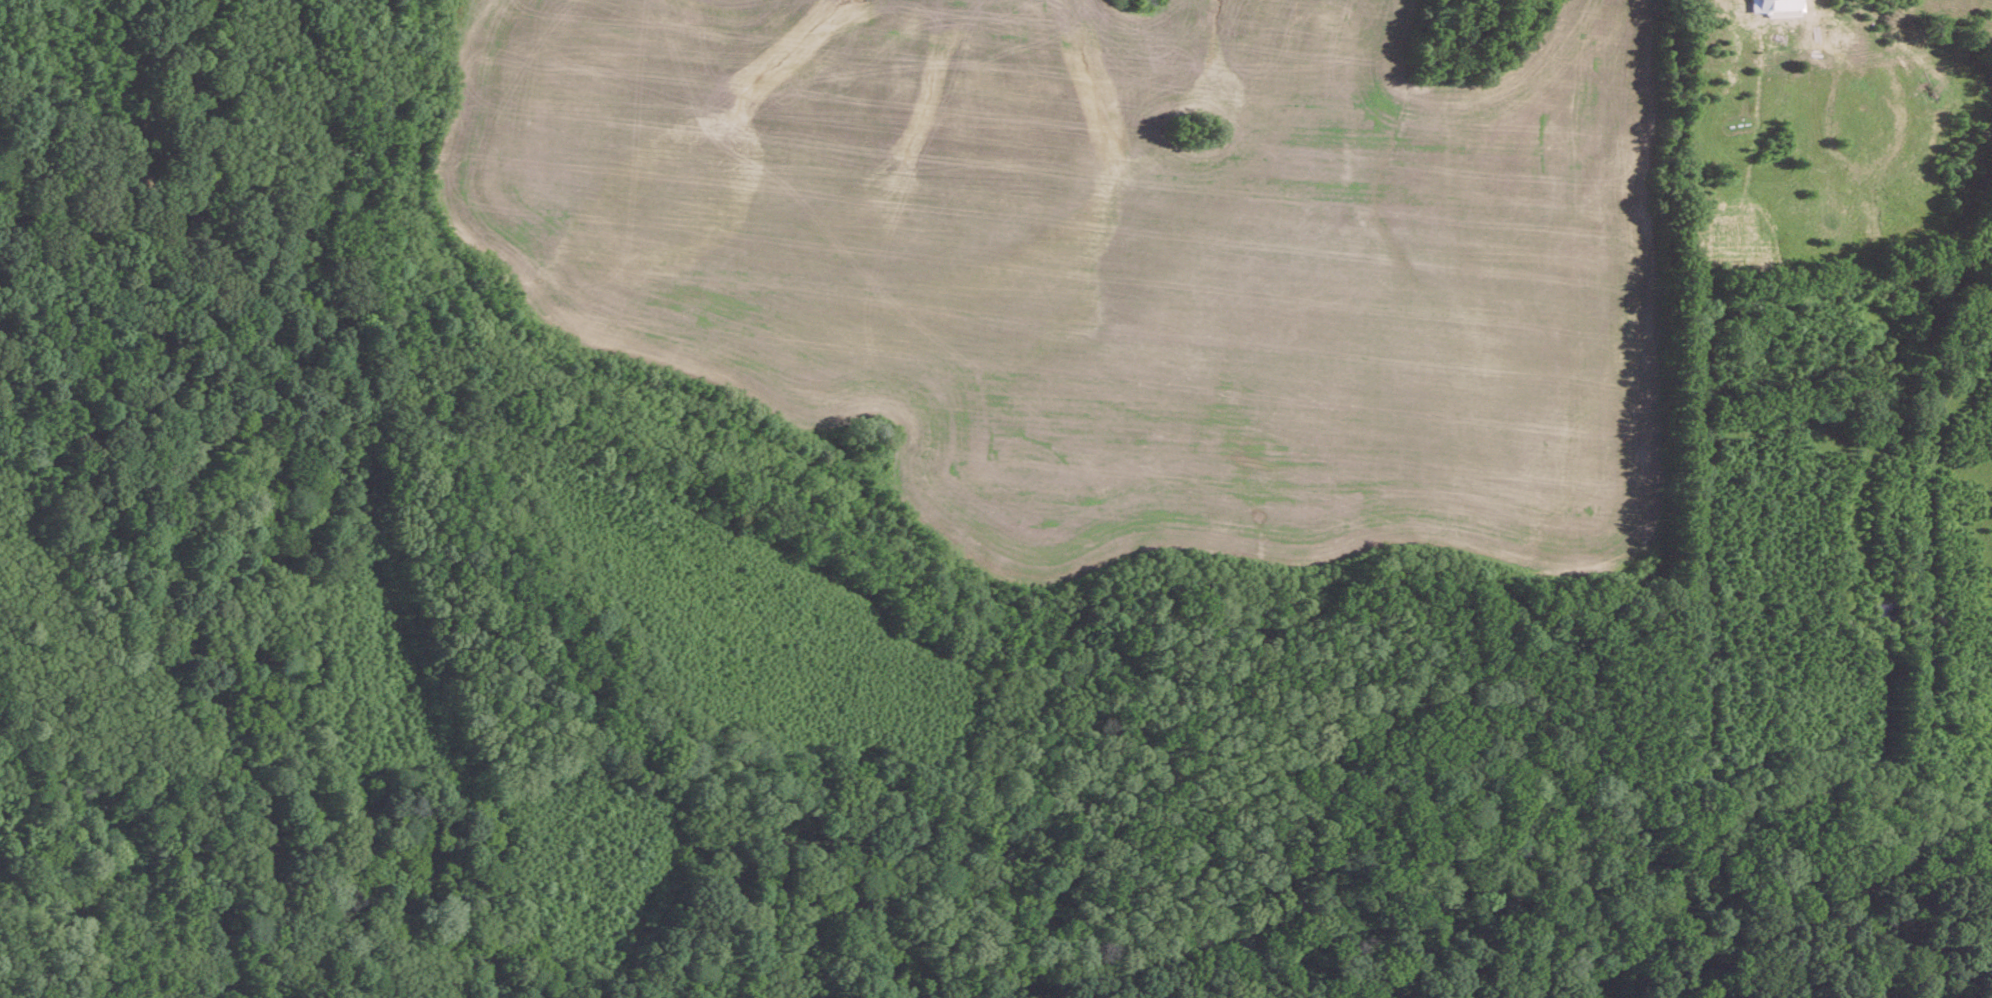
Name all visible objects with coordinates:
building: (1778, 7)

